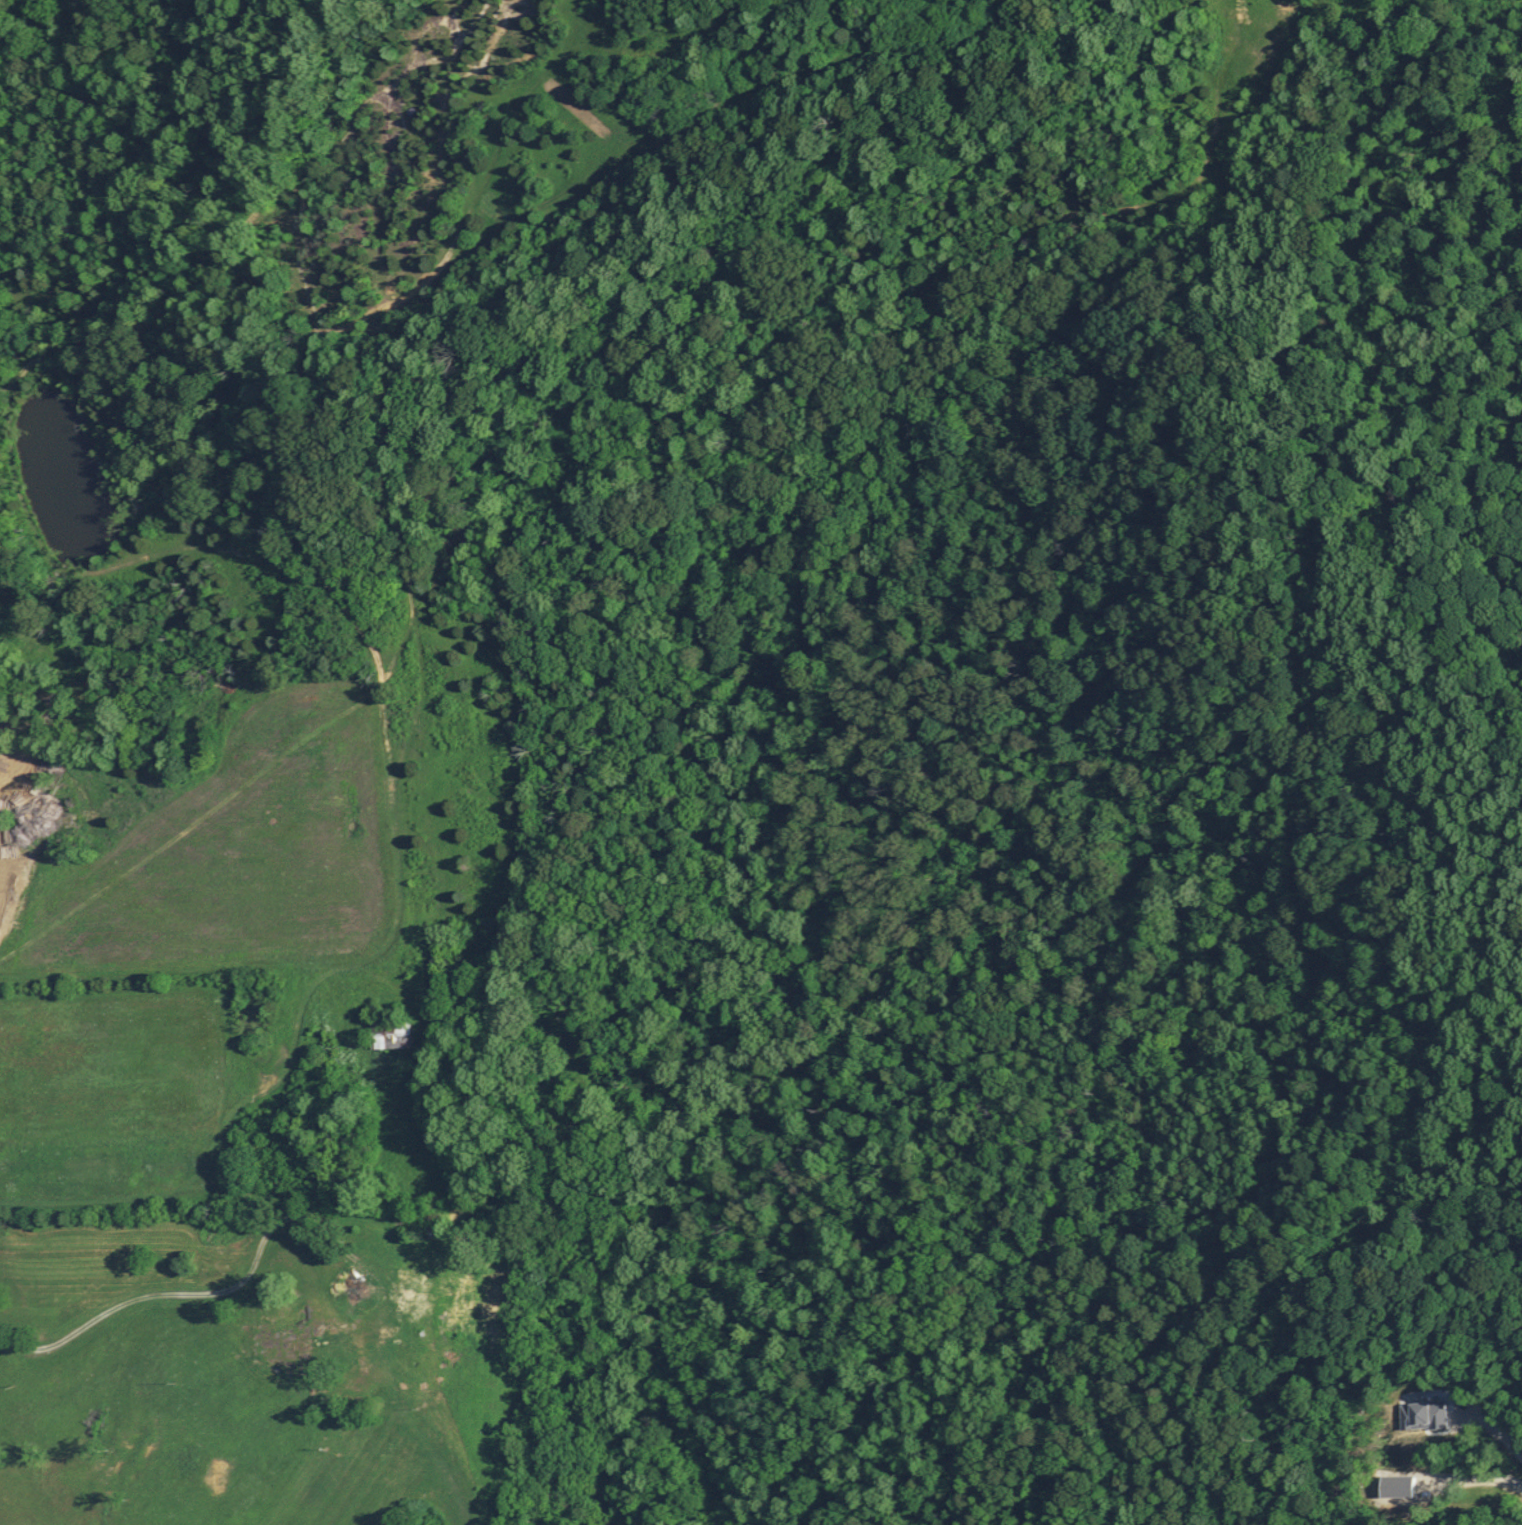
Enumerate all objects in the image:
building: (388, 1031)
building: (399, 1353)

